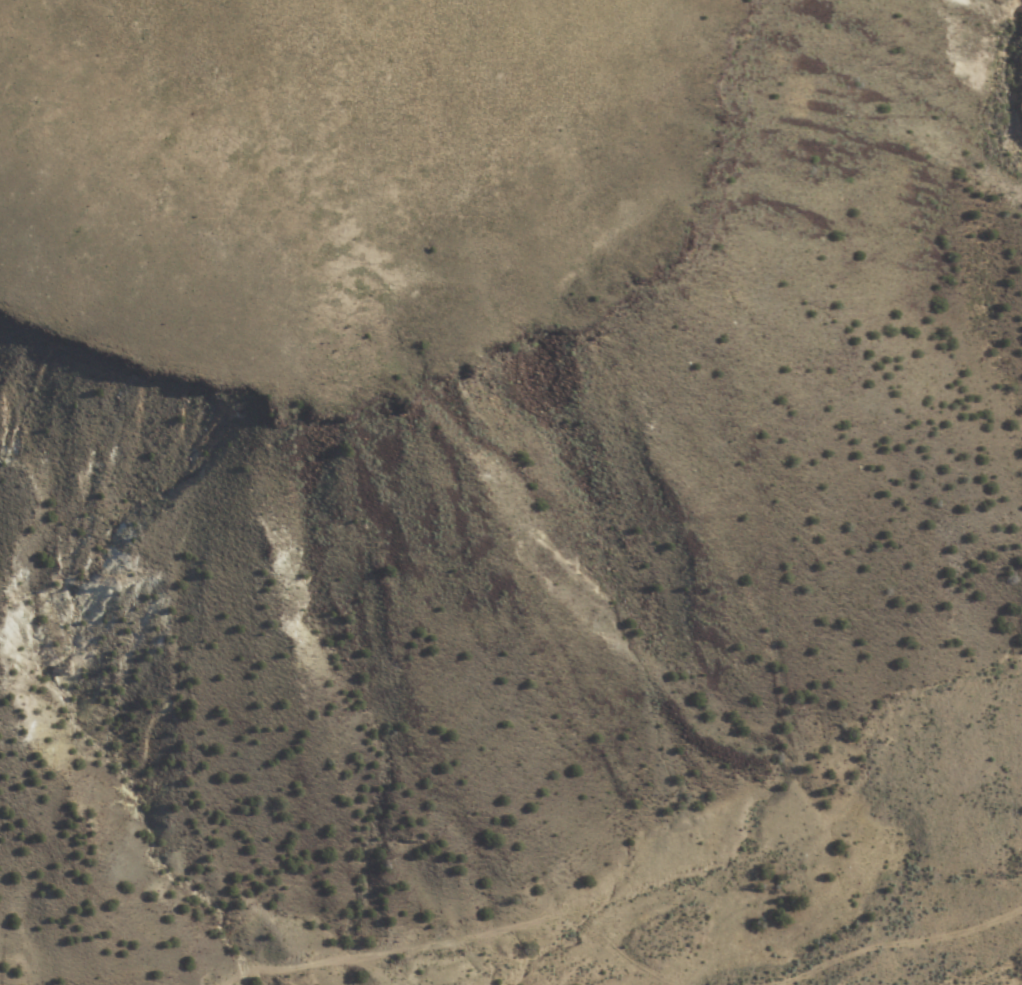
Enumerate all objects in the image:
road: (471, 932)
road: (875, 942)

